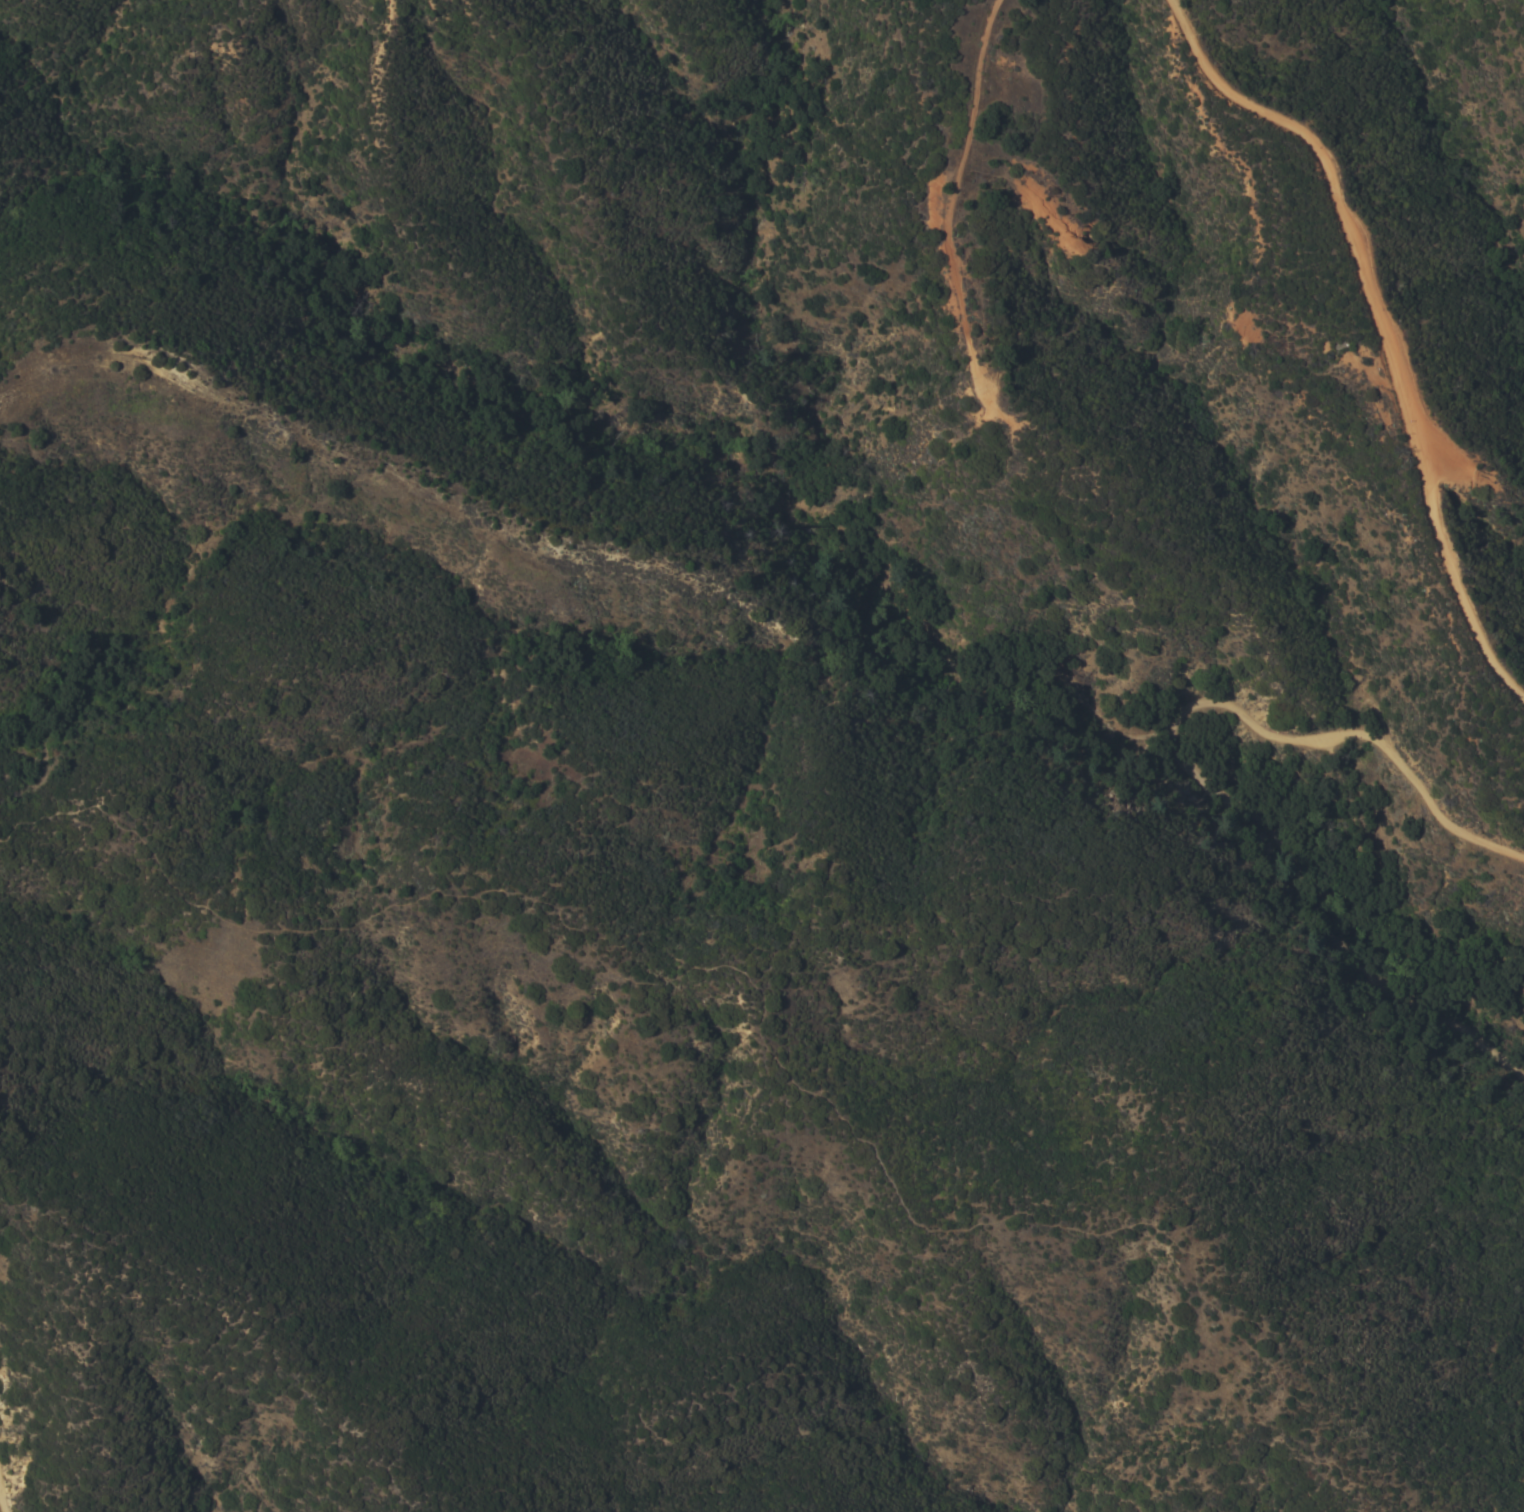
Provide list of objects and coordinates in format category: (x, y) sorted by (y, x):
road: (949, 200)
road: (1382, 324)
road: (1190, 760)
road: (760, 1007)
road: (238, 1305)
road: (5, 1484)

